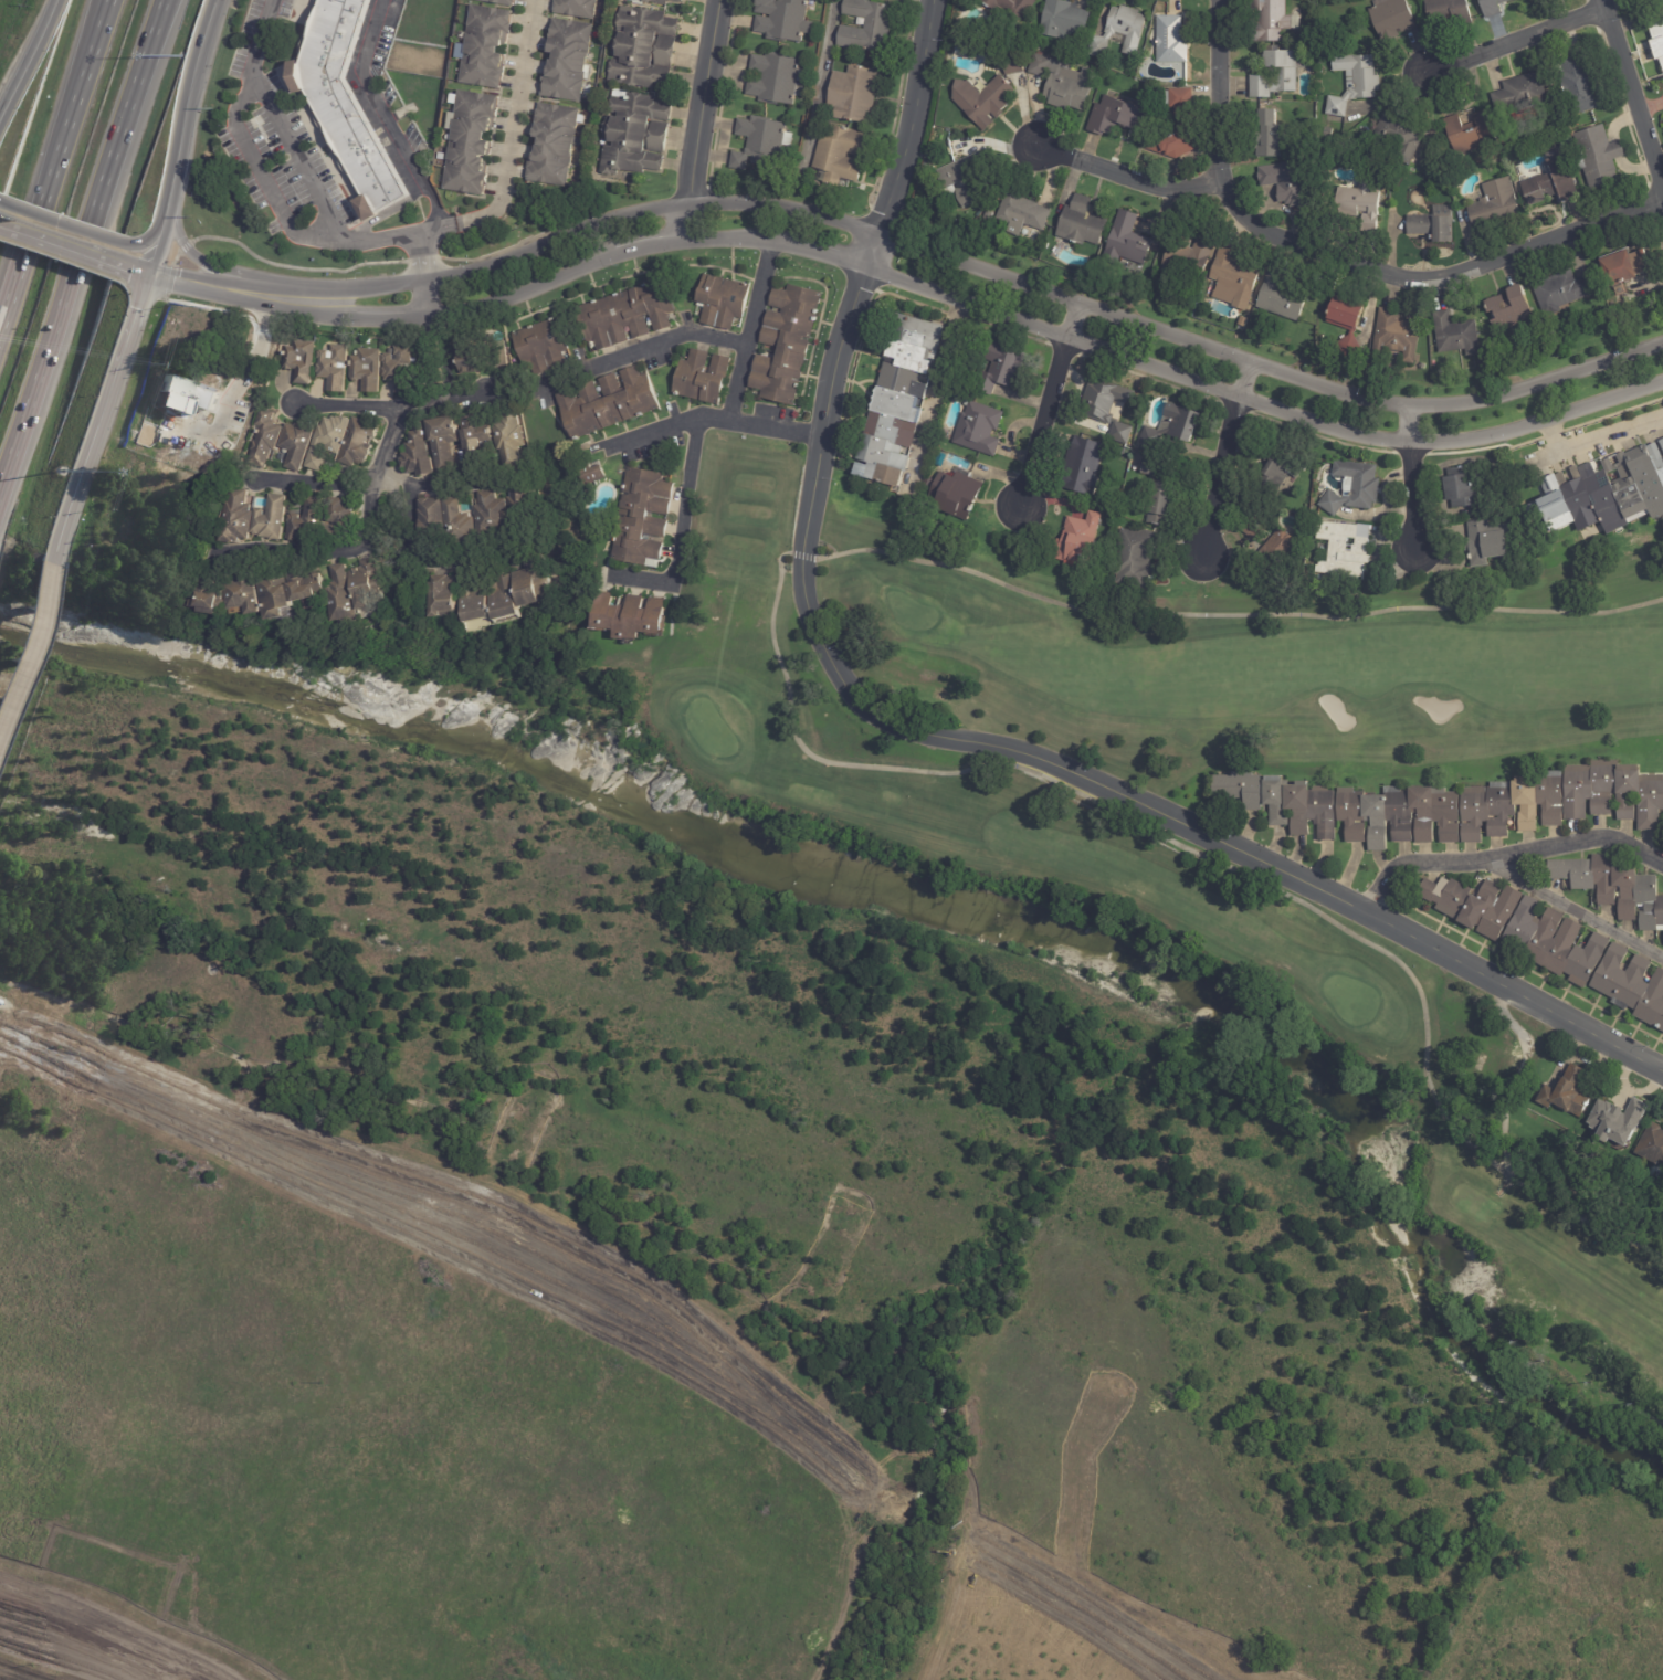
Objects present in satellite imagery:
building: (663, 1)
building: (502, 2)
building: (1649, 3)
building: (1492, 7)
building: (578, 8)
building: (1008, 9)
building: (1448, 12)
building: (1390, 19)
building: (786, 20)
building: (1062, 20)
building: (1269, 21)
road: (152, 23)
road: (155, 23)
building: (869, 27)
building: (1118, 33)
building: (1169, 41)
building: (1656, 41)
road: (1515, 43)
building: (488, 47)
building: (646, 50)
building: (571, 61)
road: (30, 64)
building: (1010, 64)
building: (1274, 75)
building: (779, 80)
building: (1352, 83)
building: (1062, 84)
road: (820, 85)
building: (1578, 85)
road: (71, 87)
building: (855, 94)
building: (1518, 94)
road: (1632, 94)
building: (980, 101)
building: (344, 103)
road: (708, 103)
building: (1113, 117)
road: (386, 118)
building: (1183, 121)
building: (1469, 134)
road: (185, 135)
building: (638, 135)
building: (1267, 136)
building: (1398, 137)
road: (511, 140)
building: (474, 144)
building: (764, 144)
building: (557, 146)
building: (843, 156)
building: (1597, 158)
road: (53, 160)
road: (290, 160)
building: (929, 170)
road: (1126, 176)
road: (267, 180)
building: (949, 182)
building: (1549, 182)
building: (1284, 183)
building: (1359, 205)
building: (1493, 205)
building: (975, 211)
building: (1020, 214)
building: (988, 216)
building: (1082, 223)
road: (692, 224)
building: (1431, 225)
road: (61, 241)
building: (1126, 243)
road: (930, 250)
road: (191, 251)
road: (421, 254)
building: (1188, 257)
road: (1343, 258)
road: (72, 261)
building: (1620, 271)
road: (151, 272)
building: (1232, 282)
road: (926, 287)
building: (1559, 292)
building: (1281, 298)
building: (724, 299)
building: (1509, 308)
building: (630, 314)
building: (1344, 325)
road: (747, 332)
building: (1455, 336)
building: (1394, 338)
building: (788, 342)
road: (433, 344)
building: (545, 346)
road: (639, 353)
building: (481, 356)
building: (301, 364)
building: (336, 367)
building: (402, 369)
building: (997, 370)
building: (368, 373)
building: (704, 377)
road: (239, 388)
building: (1096, 397)
building: (1172, 400)
building: (609, 403)
building: (897, 403)
road: (390, 409)
road: (1053, 410)
road: (104, 411)
building: (977, 431)
building: (1171, 431)
building: (1119, 432)
building: (508, 433)
road: (653, 436)
building: (476, 437)
building: (267, 439)
road: (1598, 439)
building: (330, 440)
building: (444, 441)
building: (298, 444)
building: (359, 444)
building: (1662, 447)
building: (420, 452)
building: (938, 461)
road: (1222, 464)
building: (1082, 467)
building: (1277, 469)
building: (1147, 471)
building: (593, 474)
road: (687, 479)
road: (379, 486)
road: (1411, 486)
building: (924, 487)
building: (1351, 489)
building: (1456, 494)
building: (954, 495)
building: (1603, 500)
building: (1157, 506)
building: (519, 507)
building: (491, 514)
building: (644, 516)
building: (240, 517)
building: (273, 518)
building: (307, 519)
building: (341, 519)
building: (433, 520)
building: (459, 522)
building: (1249, 529)
building: (1076, 539)
road: (358, 542)
building: (1488, 543)
building: (1275, 550)
road: (407, 551)
building: (1345, 551)
road: (55, 556)
building: (1132, 559)
road: (463, 561)
building: (369, 581)
building: (535, 582)
building: (291, 589)
building: (250, 591)
building: (343, 594)
building: (445, 595)
building: (215, 598)
building: (508, 599)
building: (478, 601)
building: (634, 615)
road: (27, 638)
road: (933, 735)
building: (1613, 793)
building: (1278, 802)
building: (1509, 805)
building: (1397, 815)
park: (1201, 817)
road: (1505, 853)
building: (1612, 888)
building: (1471, 905)
road: (1571, 910)
building: (1553, 943)
building: (1631, 986)
building: (1565, 1095)
building: (1617, 1123)
building: (1652, 1148)

